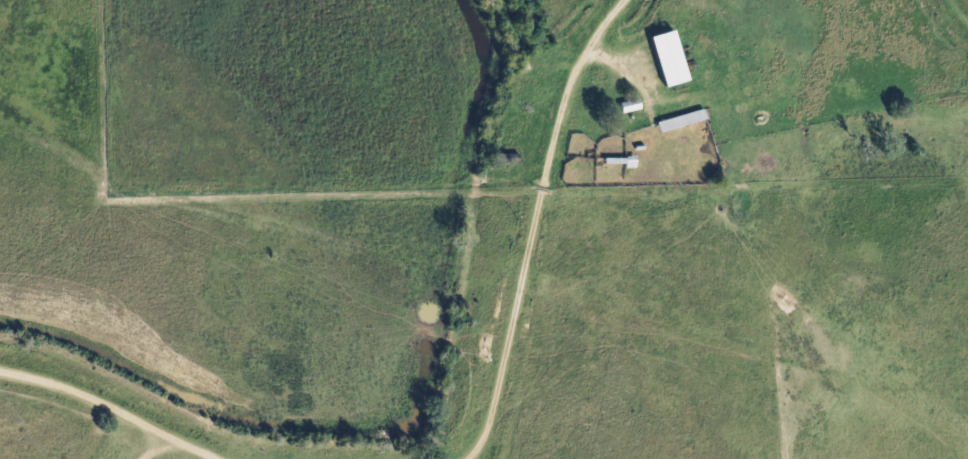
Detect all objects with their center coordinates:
building: (662, 58)
road: (635, 60)
building: (624, 106)
building: (662, 123)
road: (533, 224)
road: (87, 398)
road: (178, 441)

